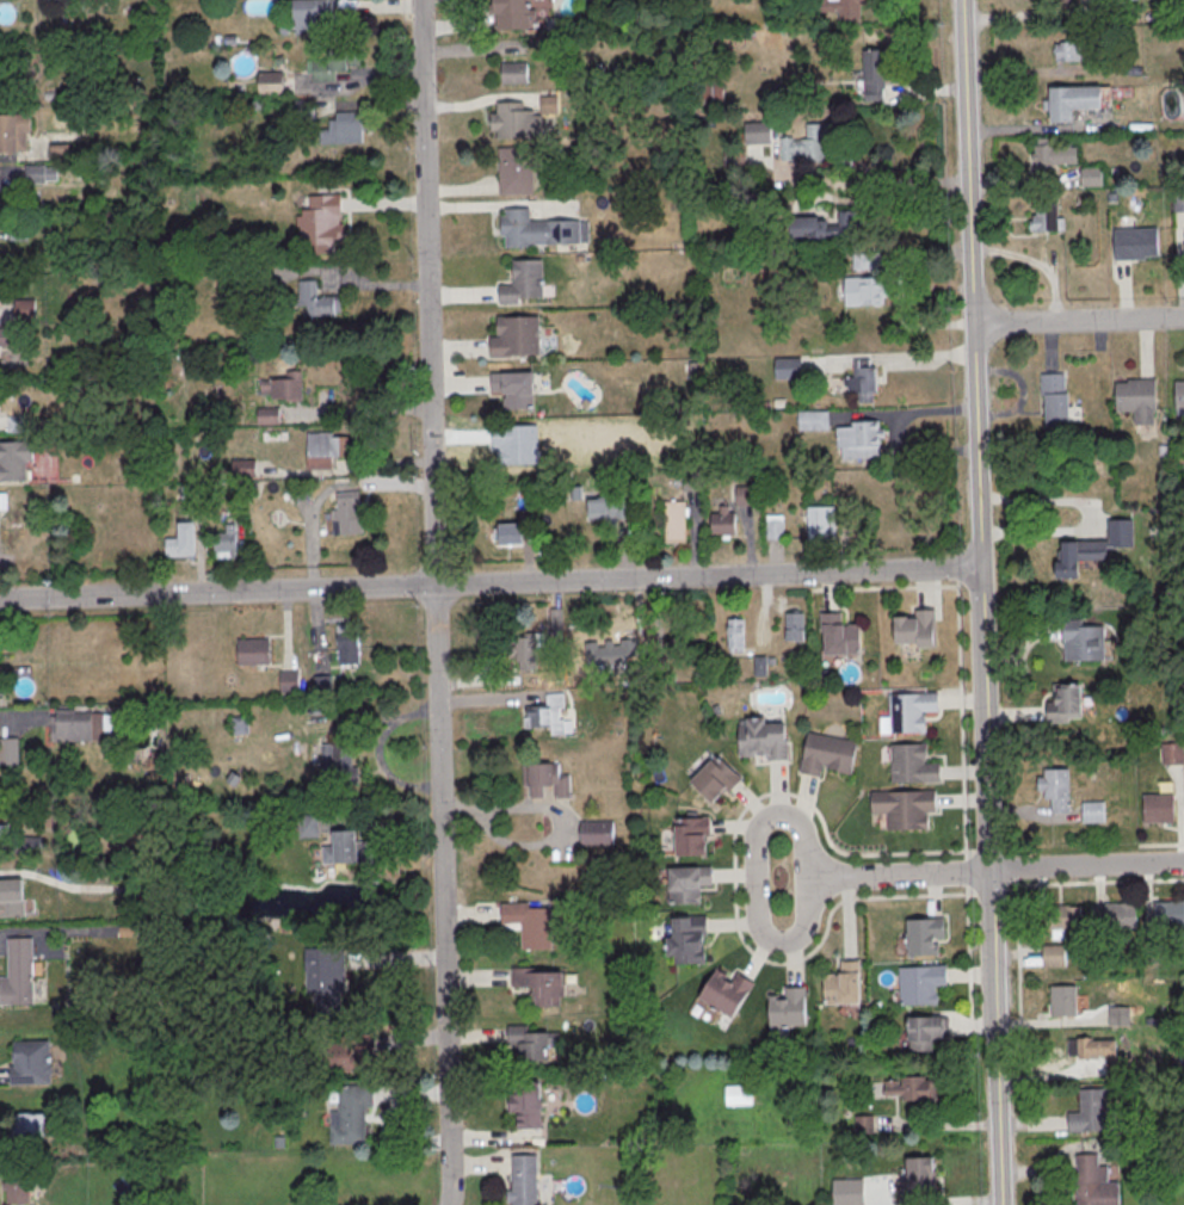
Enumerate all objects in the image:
building: (832, 8)
road: (1028, 13)
building: (512, 14)
building: (312, 16)
building: (1068, 50)
building: (333, 66)
building: (11, 69)
building: (514, 74)
building: (876, 74)
road: (352, 84)
building: (271, 85)
building: (714, 93)
building: (1073, 103)
road: (368, 106)
building: (549, 106)
building: (304, 111)
building: (516, 123)
building: (345, 130)
building: (14, 134)
building: (758, 134)
building: (809, 144)
building: (60, 150)
building: (1053, 154)
road: (967, 161)
building: (41, 173)
building: (516, 173)
building: (1091, 175)
road: (888, 183)
road: (904, 199)
building: (1178, 200)
road: (382, 203)
building: (1044, 217)
building: (319, 221)
building: (822, 229)
building: (541, 231)
building: (1134, 242)
building: (868, 260)
building: (524, 284)
building: (865, 290)
road: (426, 291)
building: (315, 301)
building: (26, 311)
road: (1078, 321)
building: (6, 339)
building: (517, 339)
road: (887, 357)
building: (789, 370)
building: (863, 382)
building: (283, 385)
building: (516, 391)
building: (1135, 394)
building: (1179, 394)
building: (1055, 403)
road: (353, 412)
building: (266, 414)
road: (902, 414)
building: (814, 421)
building: (19, 426)
building: (859, 441)
road: (976, 446)
building: (326, 447)
building: (14, 462)
building: (302, 493)
building: (745, 498)
building: (2, 501)
building: (609, 507)
building: (347, 512)
road: (1096, 515)
building: (676, 520)
building: (723, 524)
building: (822, 524)
building: (776, 527)
building: (508, 533)
building: (181, 542)
building: (226, 542)
building: (1094, 550)
road: (491, 585)
building: (795, 628)
building: (918, 631)
building: (736, 636)
building: (839, 637)
building: (1083, 639)
building: (347, 643)
building: (525, 650)
building: (616, 653)
building: (254, 654)
building: (760, 668)
building: (290, 684)
building: (322, 687)
building: (1066, 703)
building: (909, 711)
building: (547, 716)
road: (985, 718)
building: (79, 725)
building: (763, 741)
building: (10, 752)
building: (1173, 755)
building: (332, 756)
building: (828, 756)
building: (911, 764)
building: (547, 781)
building: (714, 781)
building: (1055, 787)
building: (904, 807)
building: (1159, 810)
building: (1092, 814)
building: (307, 826)
building: (4, 828)
building: (598, 835)
building: (692, 839)
building: (27, 843)
building: (341, 848)
road: (734, 858)
road: (1087, 866)
building: (603, 869)
road: (899, 876)
road: (756, 878)
road: (1099, 883)
building: (687, 886)
road: (442, 895)
building: (12, 897)
building: (1170, 916)
building: (1115, 917)
building: (1066, 920)
building: (531, 927)
building: (925, 935)
building: (690, 943)
building: (1151, 956)
building: (1054, 958)
building: (18, 975)
building: (326, 980)
building: (920, 983)
building: (844, 987)
building: (542, 988)
building: (727, 995)
building: (1062, 1000)
building: (789, 1011)
building: (1120, 1019)
road: (1053, 1024)
building: (924, 1032)
road: (995, 1037)
building: (530, 1046)
building: (1094, 1050)
building: (352, 1053)
building: (27, 1068)
building: (909, 1087)
building: (738, 1094)
building: (528, 1107)
building: (1091, 1114)
building: (351, 1117)
building: (27, 1126)
building: (524, 1181)
building: (917, 1182)
building: (1094, 1182)
building: (18, 1191)

